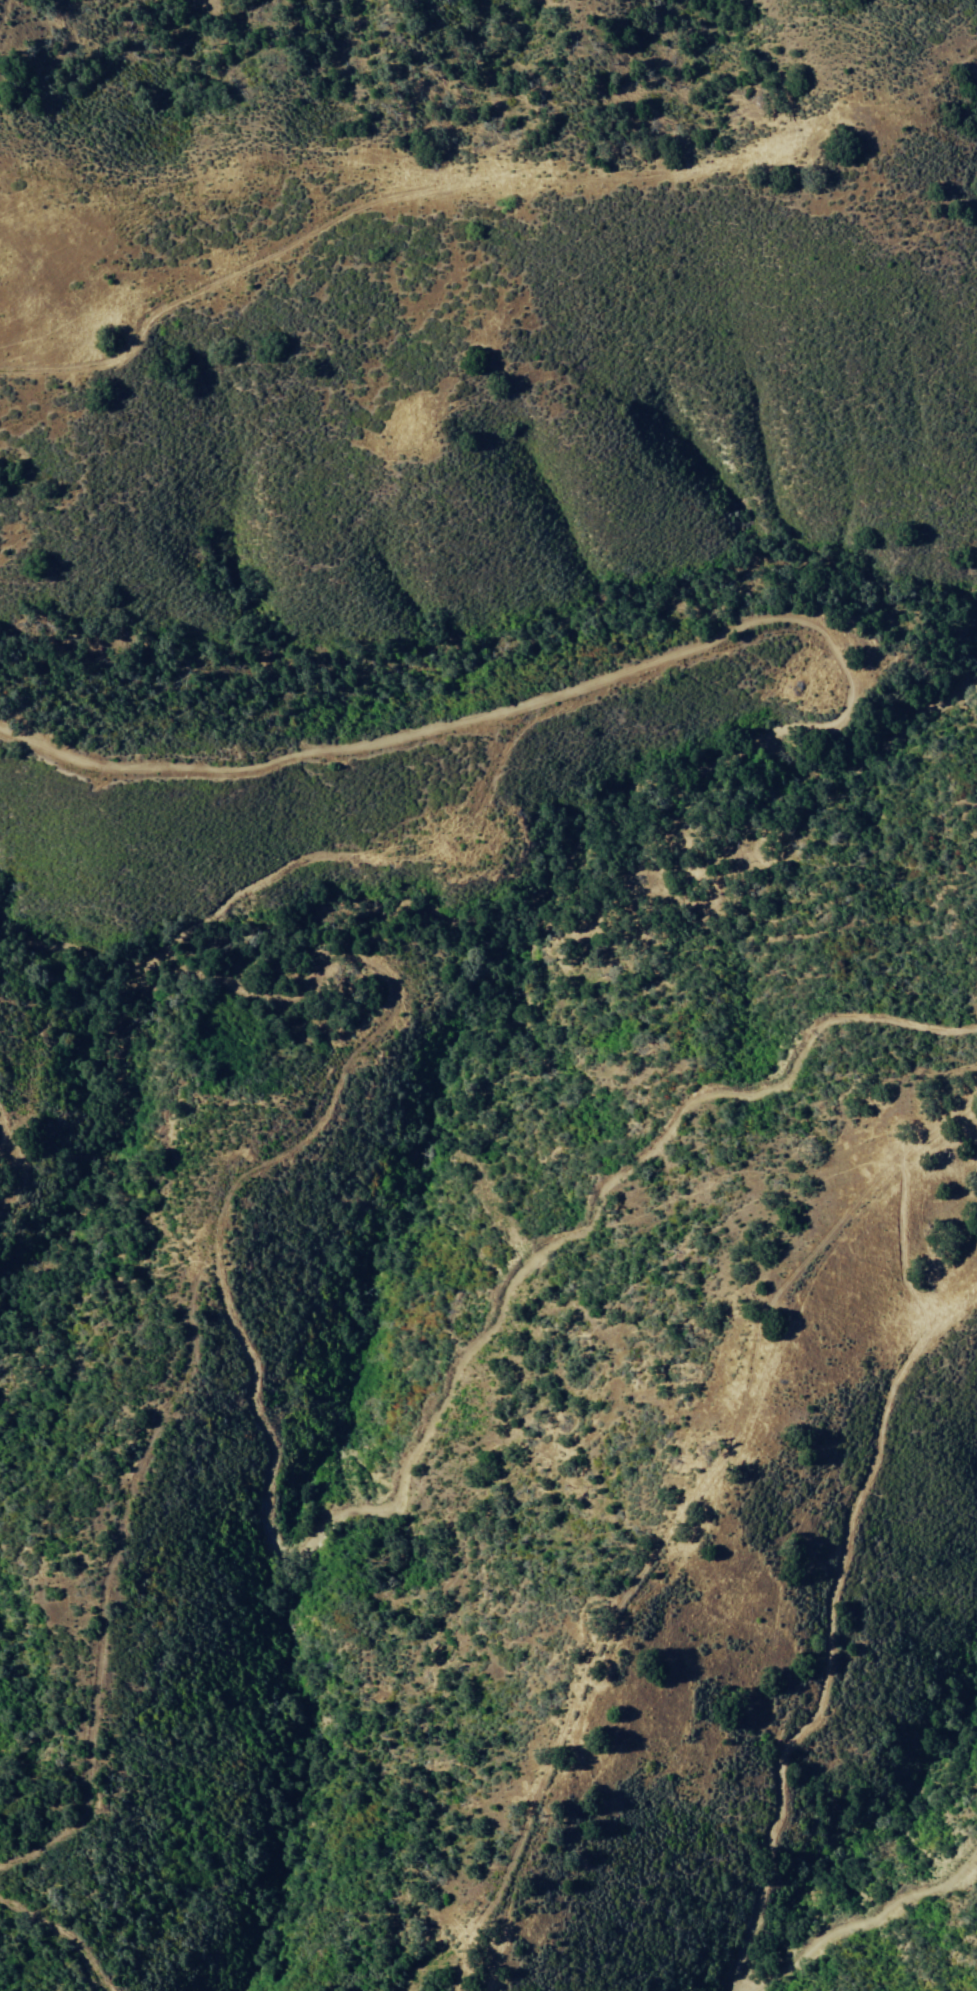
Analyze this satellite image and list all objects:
road: (609, 692)

